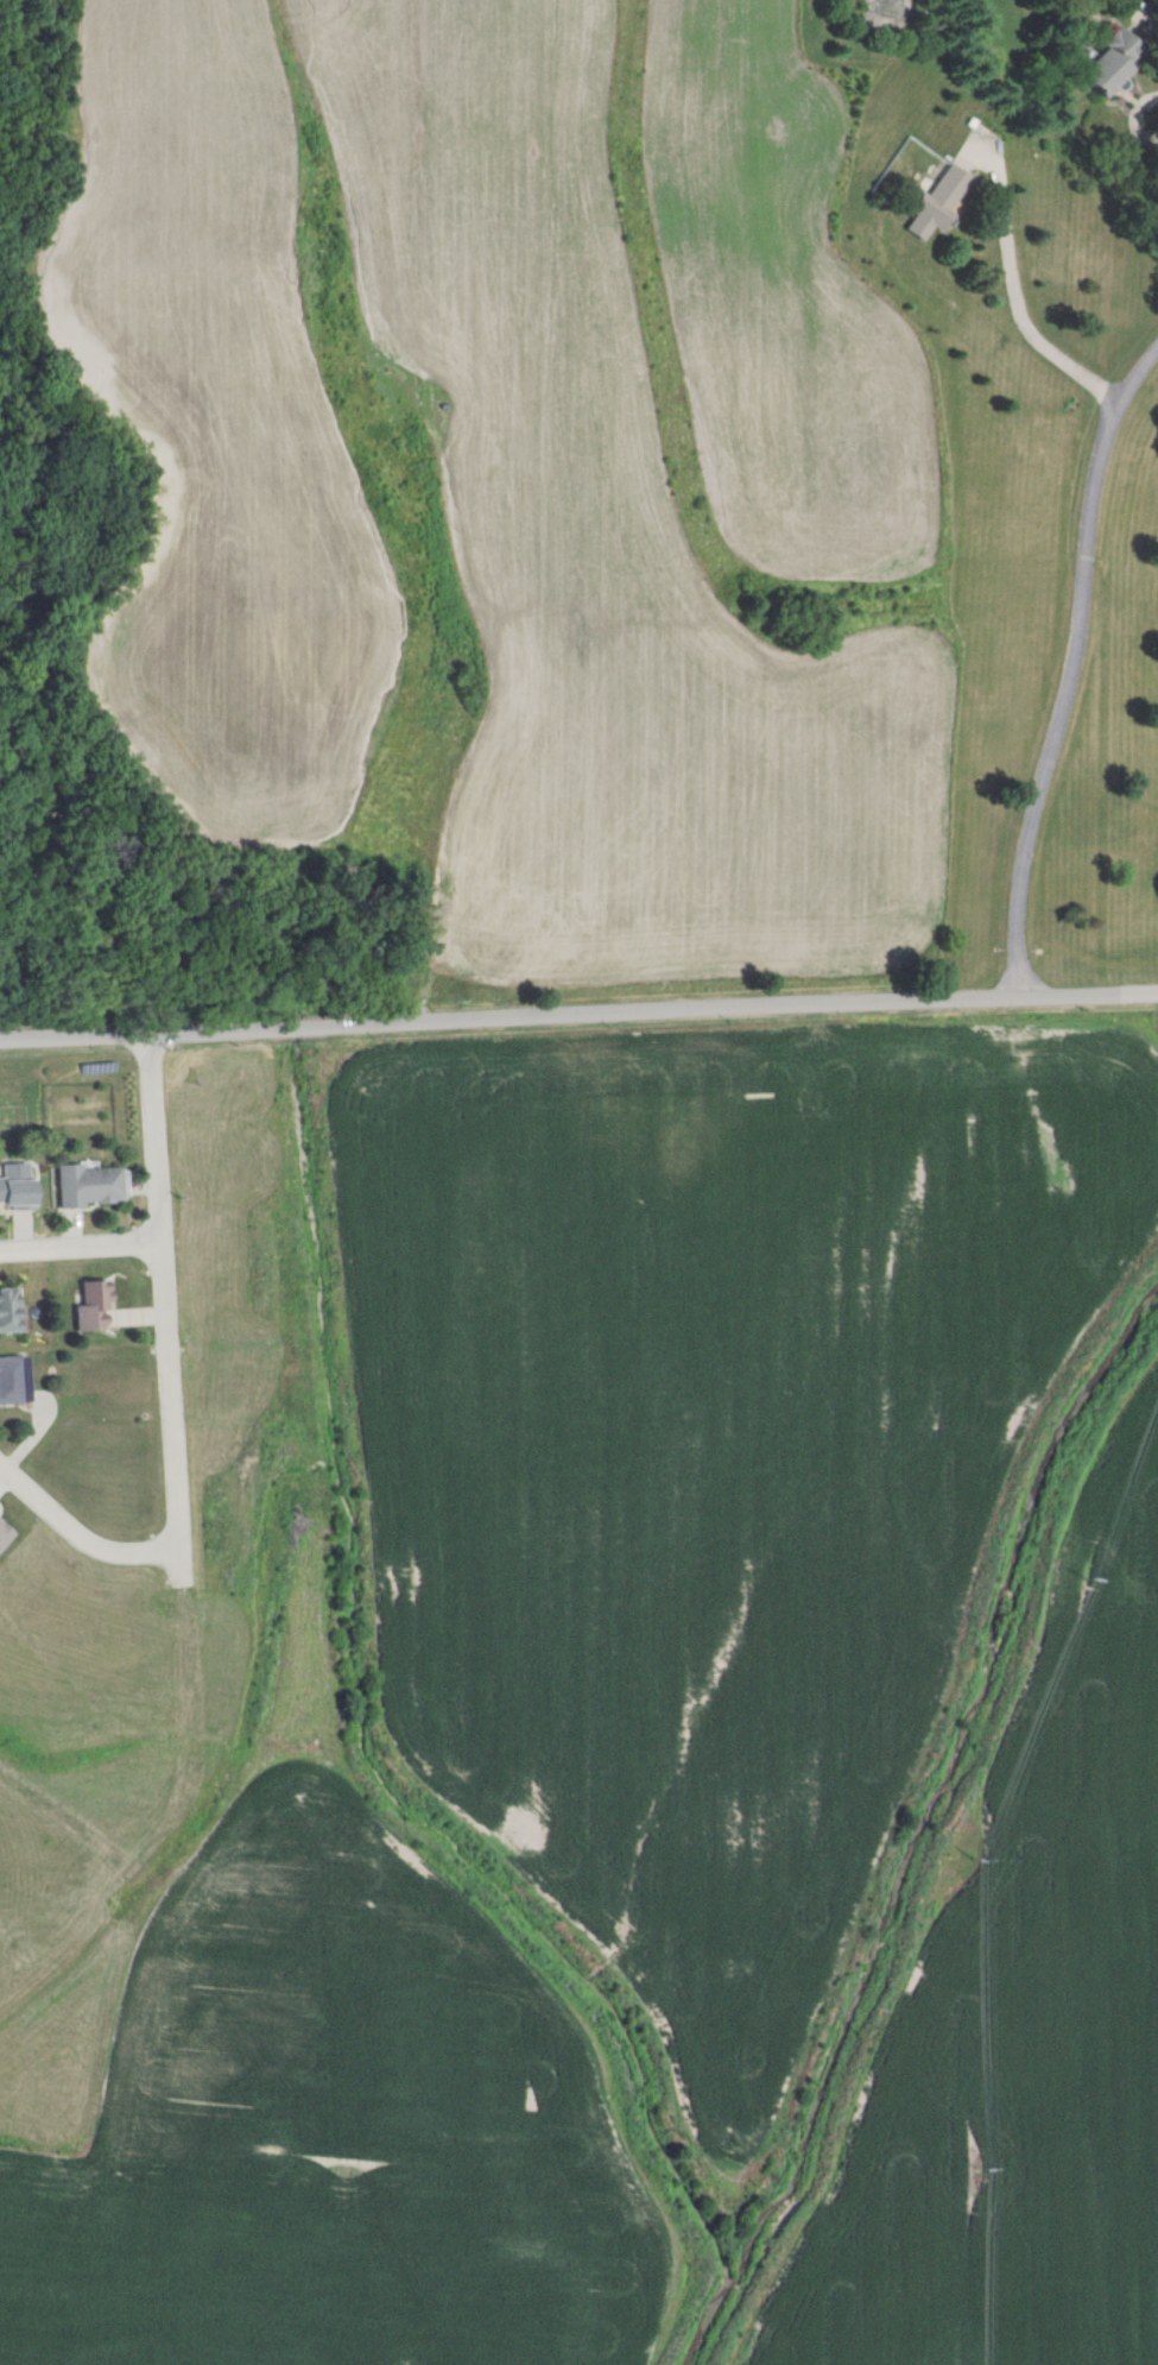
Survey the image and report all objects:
crop: (717, 33)
crop: (311, 56)
building: (1103, 64)
building: (934, 204)
crop: (790, 329)
crop: (211, 503)
road: (1072, 667)
road: (578, 1016)
building: (14, 1186)
building: (83, 1186)
road: (82, 1249)
building: (89, 1306)
building: (8, 1311)
road: (166, 1314)
building: (7, 1381)
crop: (713, 1463)
building: (2, 1534)
road: (80, 1534)
crop: (1015, 2000)
crop: (341, 2104)

